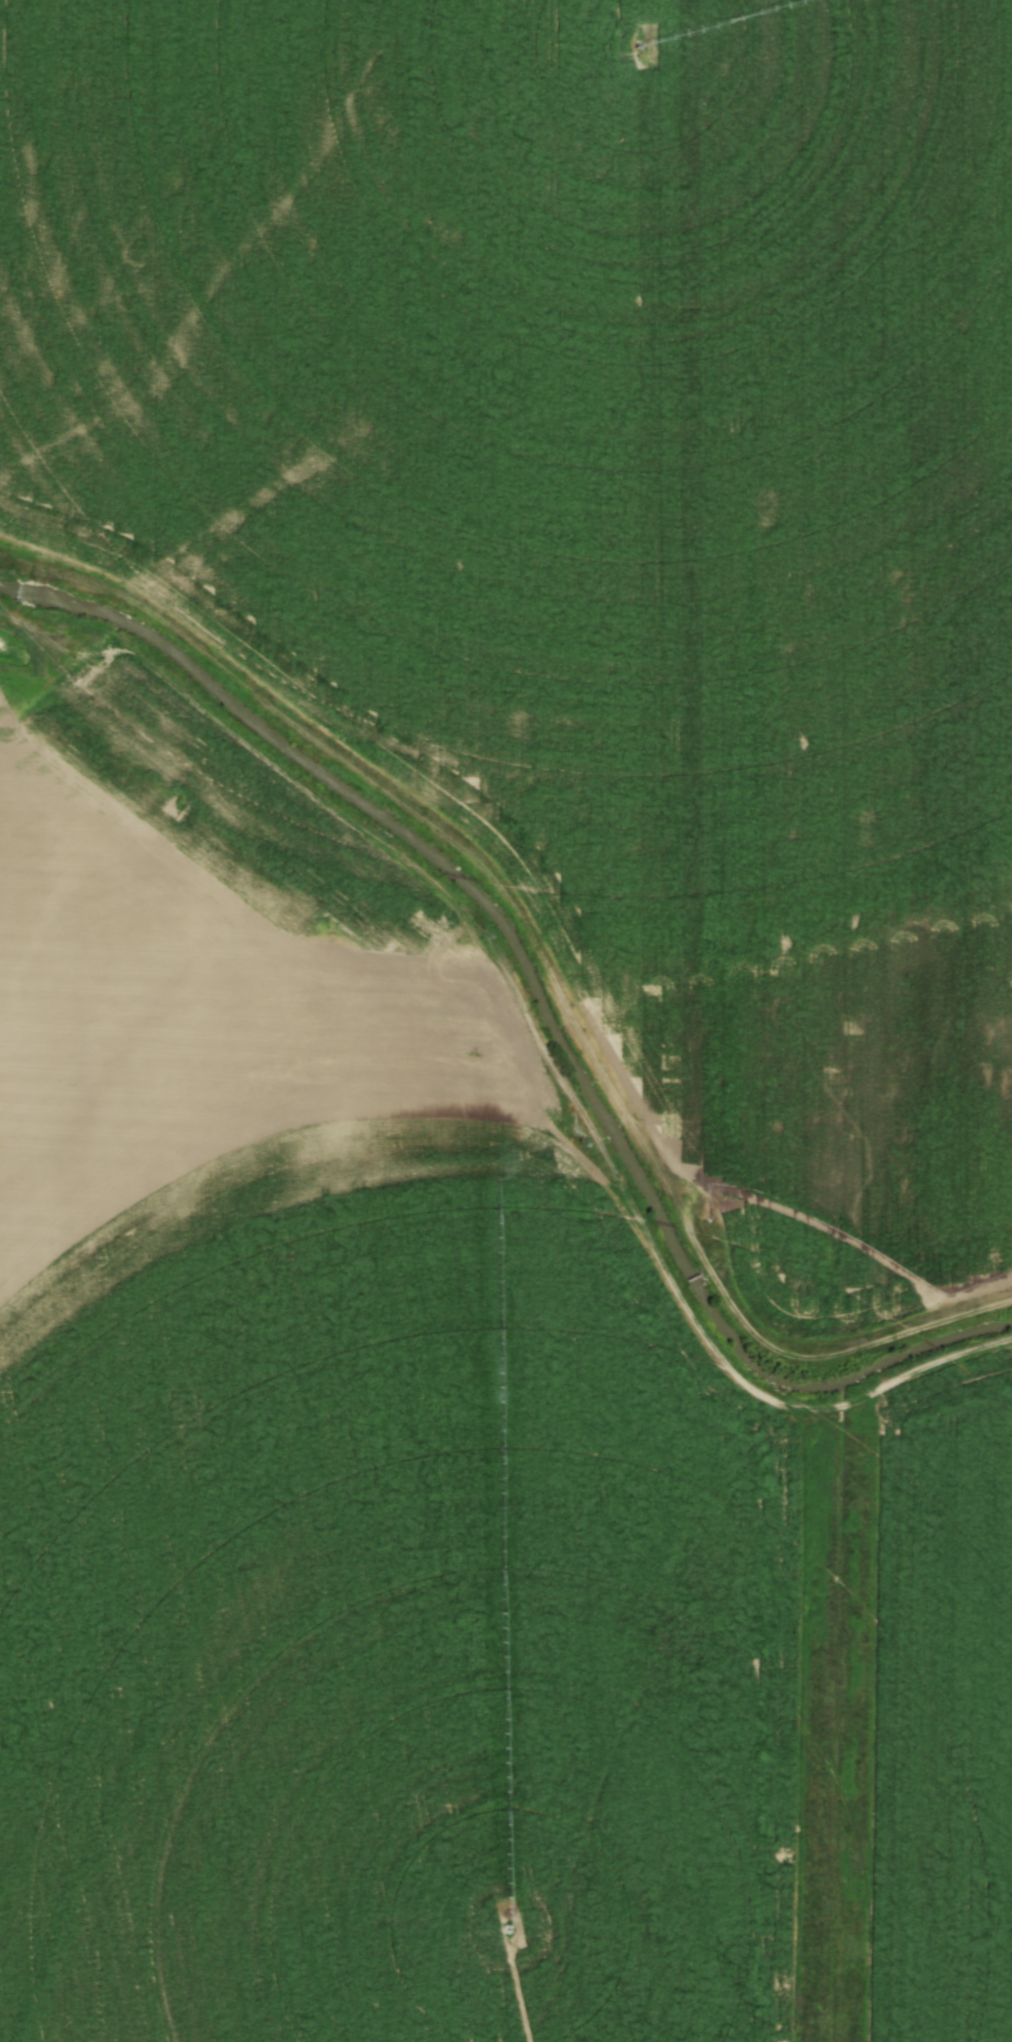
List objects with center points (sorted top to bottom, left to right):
crop: (593, 511)
crop: (346, 1462)
crop: (941, 1712)

